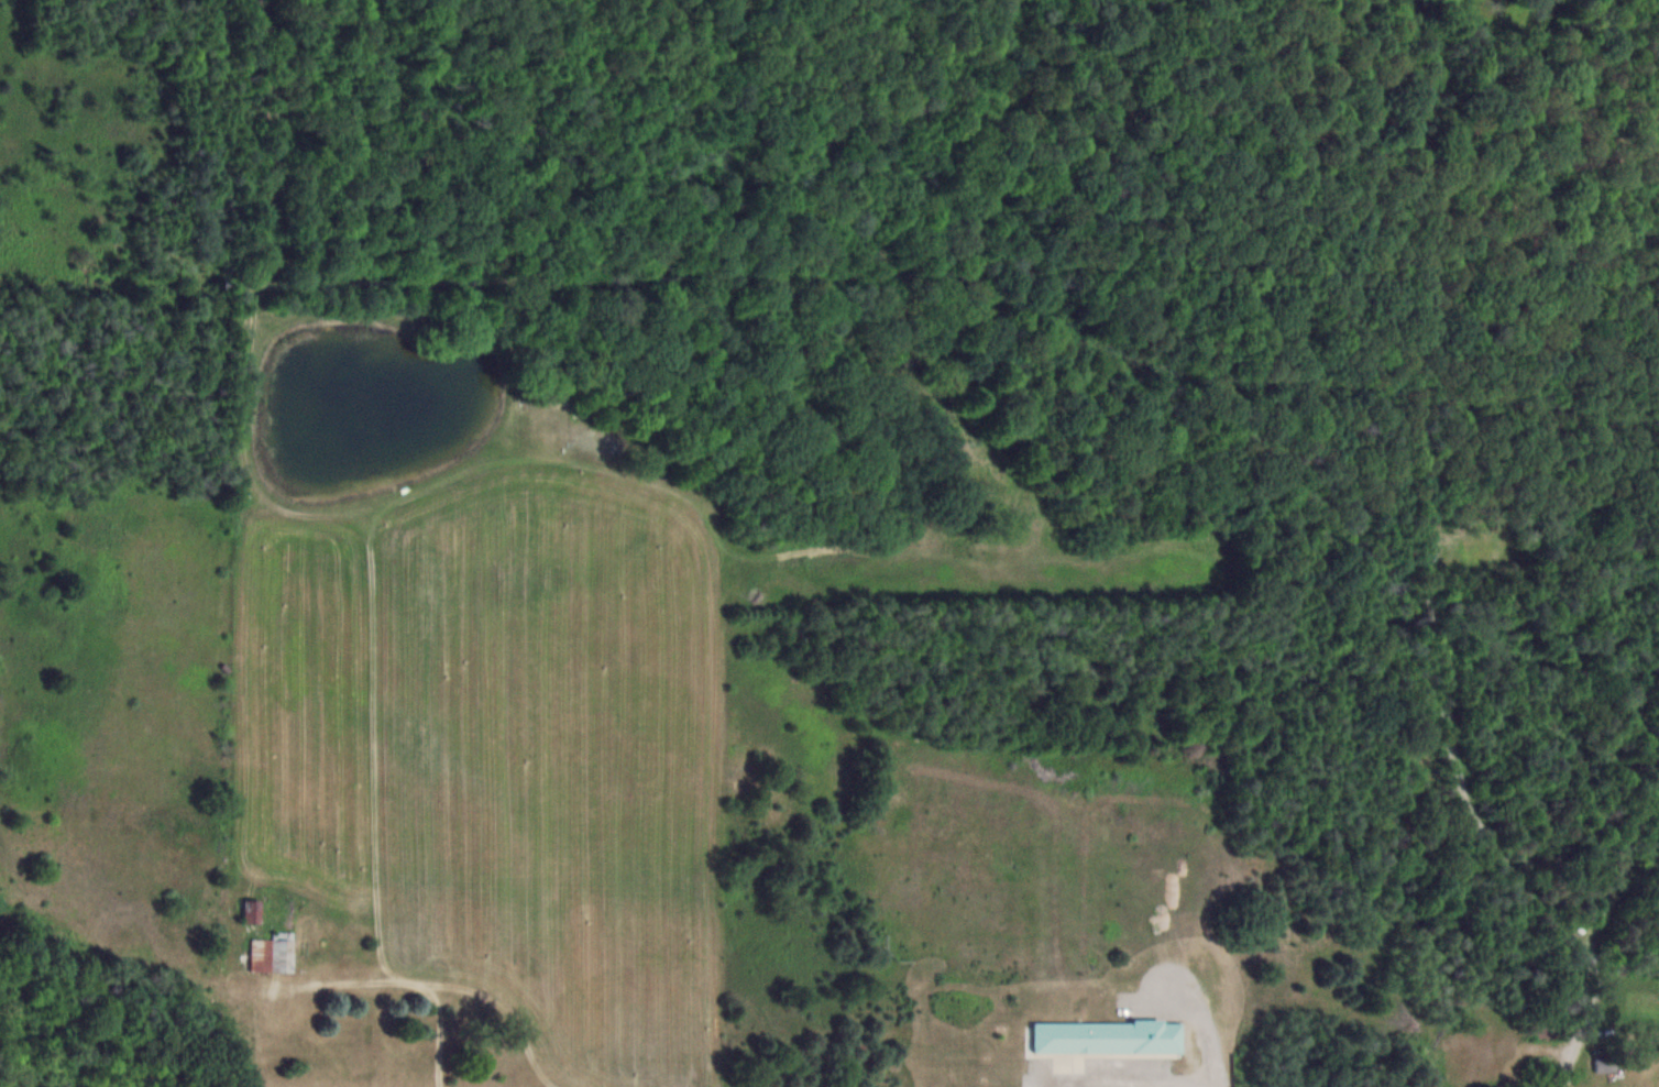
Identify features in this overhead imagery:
building: (273, 956)
building: (1109, 1040)
building: (1607, 1065)

